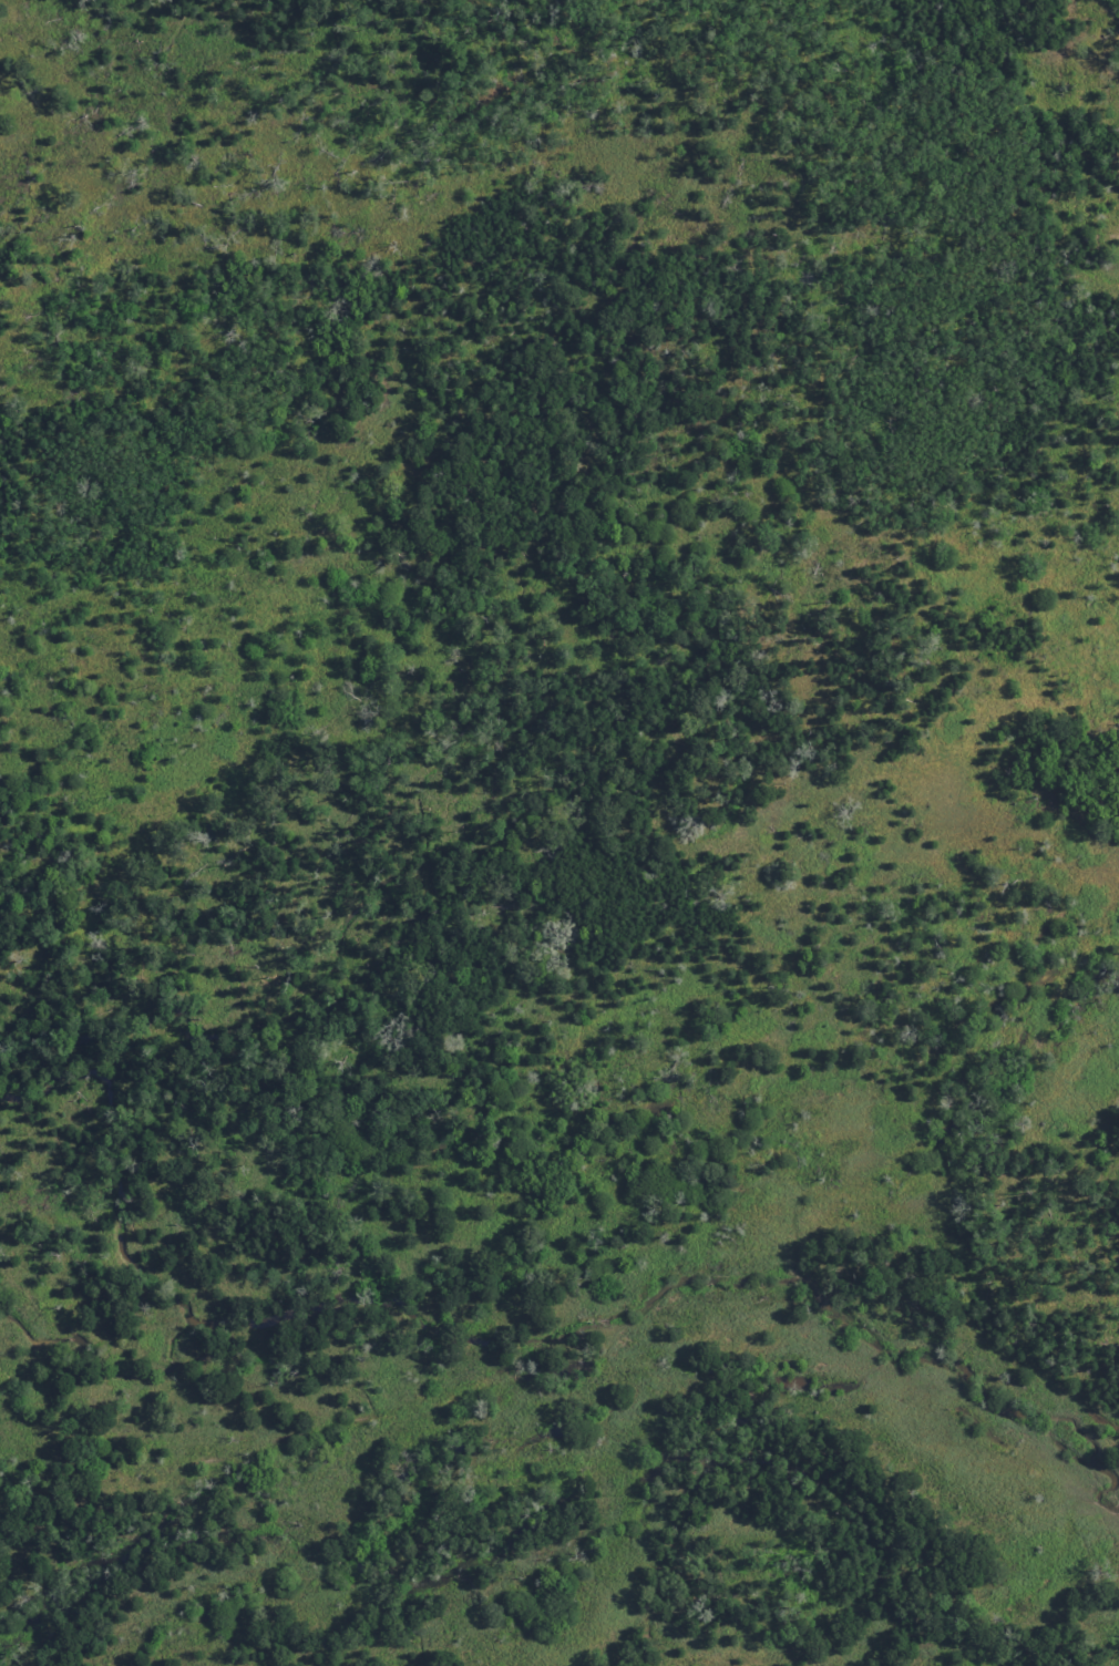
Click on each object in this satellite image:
road: (336, 1600)

